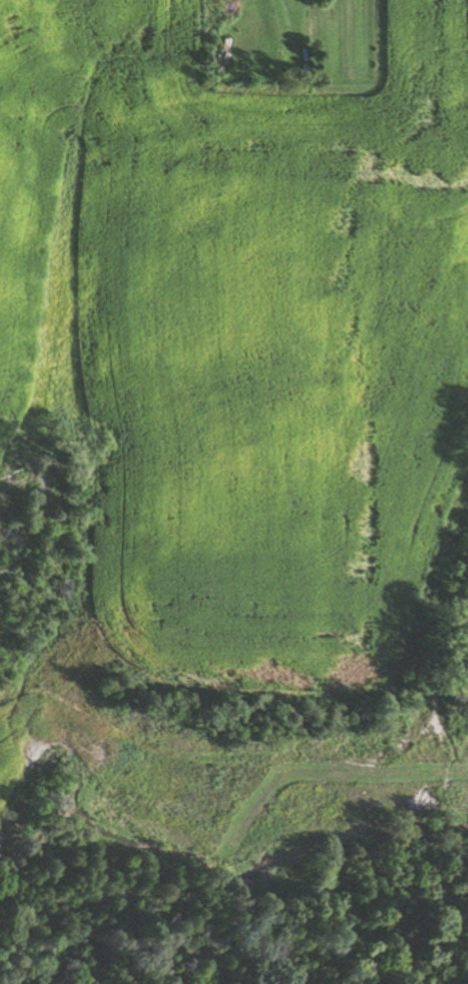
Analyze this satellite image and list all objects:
road: (231, 936)

